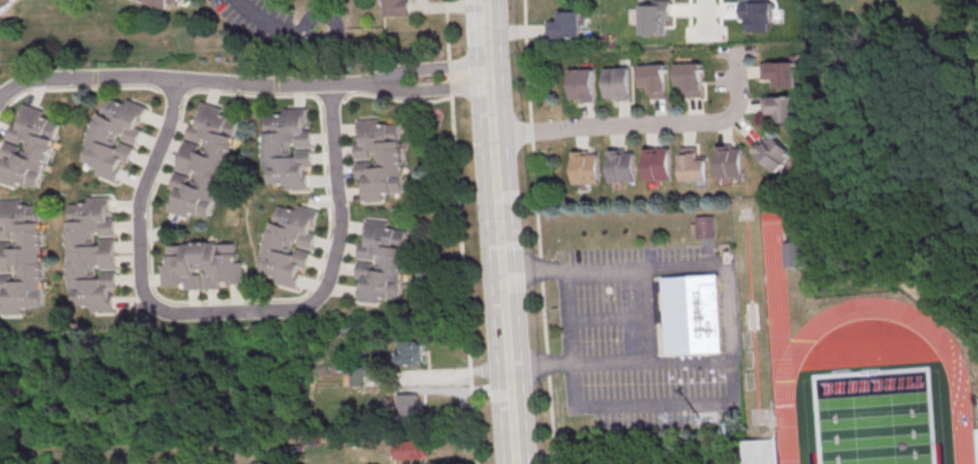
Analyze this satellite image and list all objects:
building: (160, 3)
building: (6, 6)
building: (398, 9)
road: (706, 17)
building: (565, 25)
road: (273, 27)
road: (448, 32)
road: (484, 43)
road: (428, 73)
building: (781, 73)
building: (690, 78)
building: (654, 79)
road: (184, 80)
road: (451, 80)
building: (618, 84)
road: (352, 85)
building: (582, 85)
road: (17, 86)
road: (429, 91)
building: (783, 108)
road: (649, 126)
building: (115, 141)
building: (29, 150)
building: (289, 152)
building: (773, 152)
building: (380, 161)
building: (204, 165)
building: (731, 165)
building: (659, 168)
building: (694, 168)
building: (623, 170)
building: (587, 171)
road: (341, 207)
building: (703, 227)
road: (538, 231)
building: (291, 248)
building: (795, 254)
building: (92, 257)
building: (21, 259)
road: (139, 264)
building: (382, 265)
road: (680, 268)
building: (202, 269)
road: (502, 275)
road: (465, 280)
building: (693, 318)
road: (568, 319)
road: (608, 319)
track: (805, 339)
building: (410, 353)
road: (720, 363)
road: (612, 364)
road: (180, 373)
road: (107, 407)
park: (873, 418)
park: (874, 418)
stadium: (976, 445)
stadium: (761, 450)
building: (413, 453)

